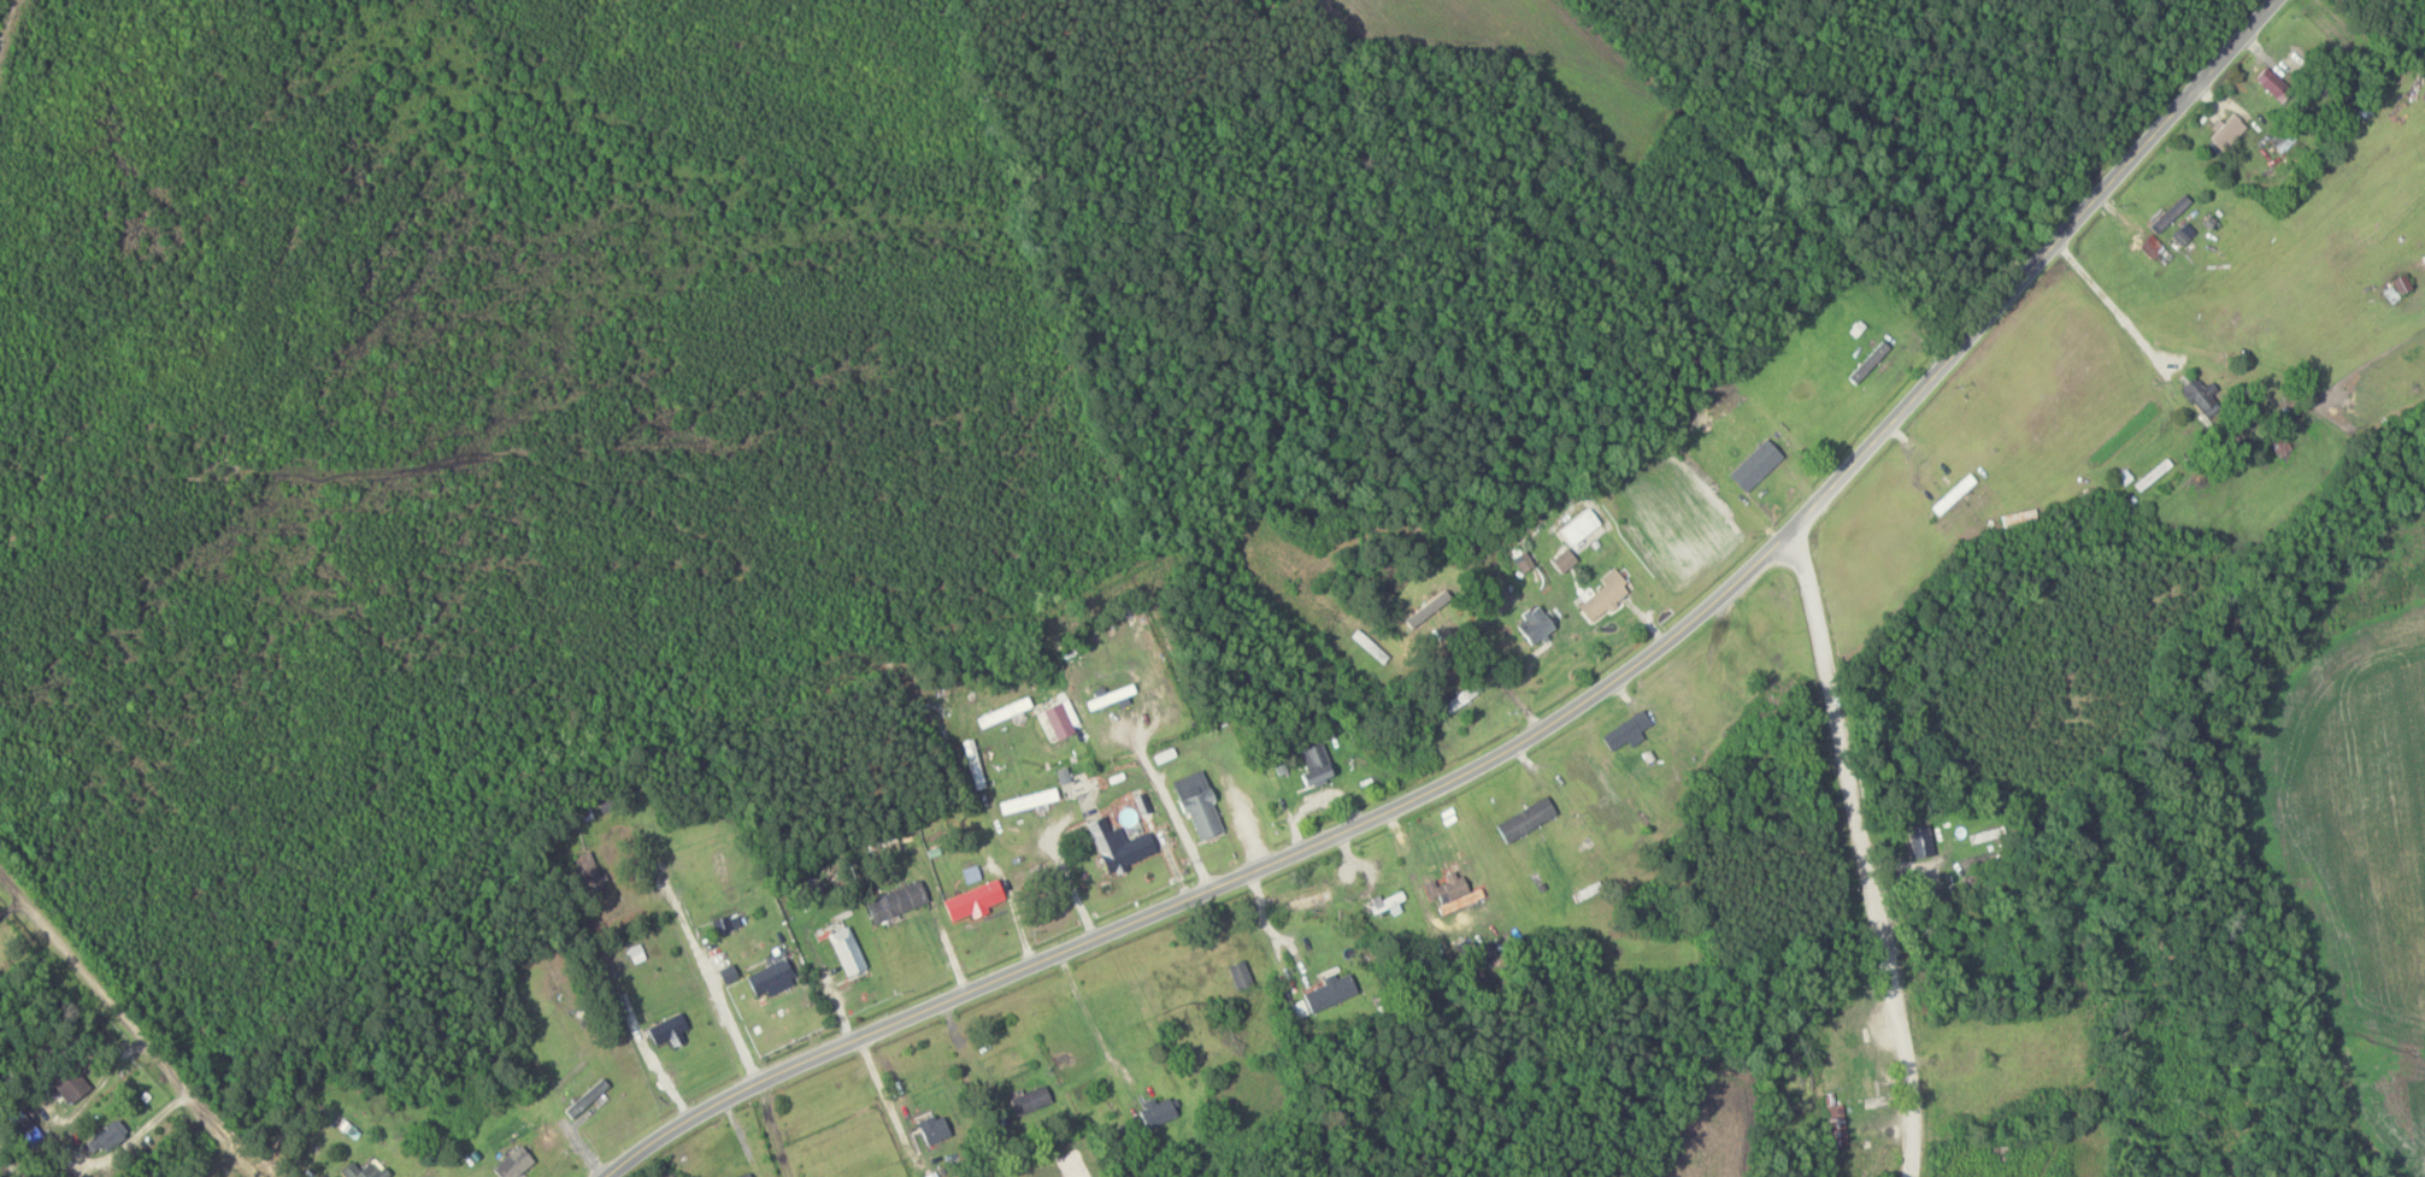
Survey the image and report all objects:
road: (1538, 729)
road: (1864, 852)
road: (700, 959)
road: (130, 1028)

